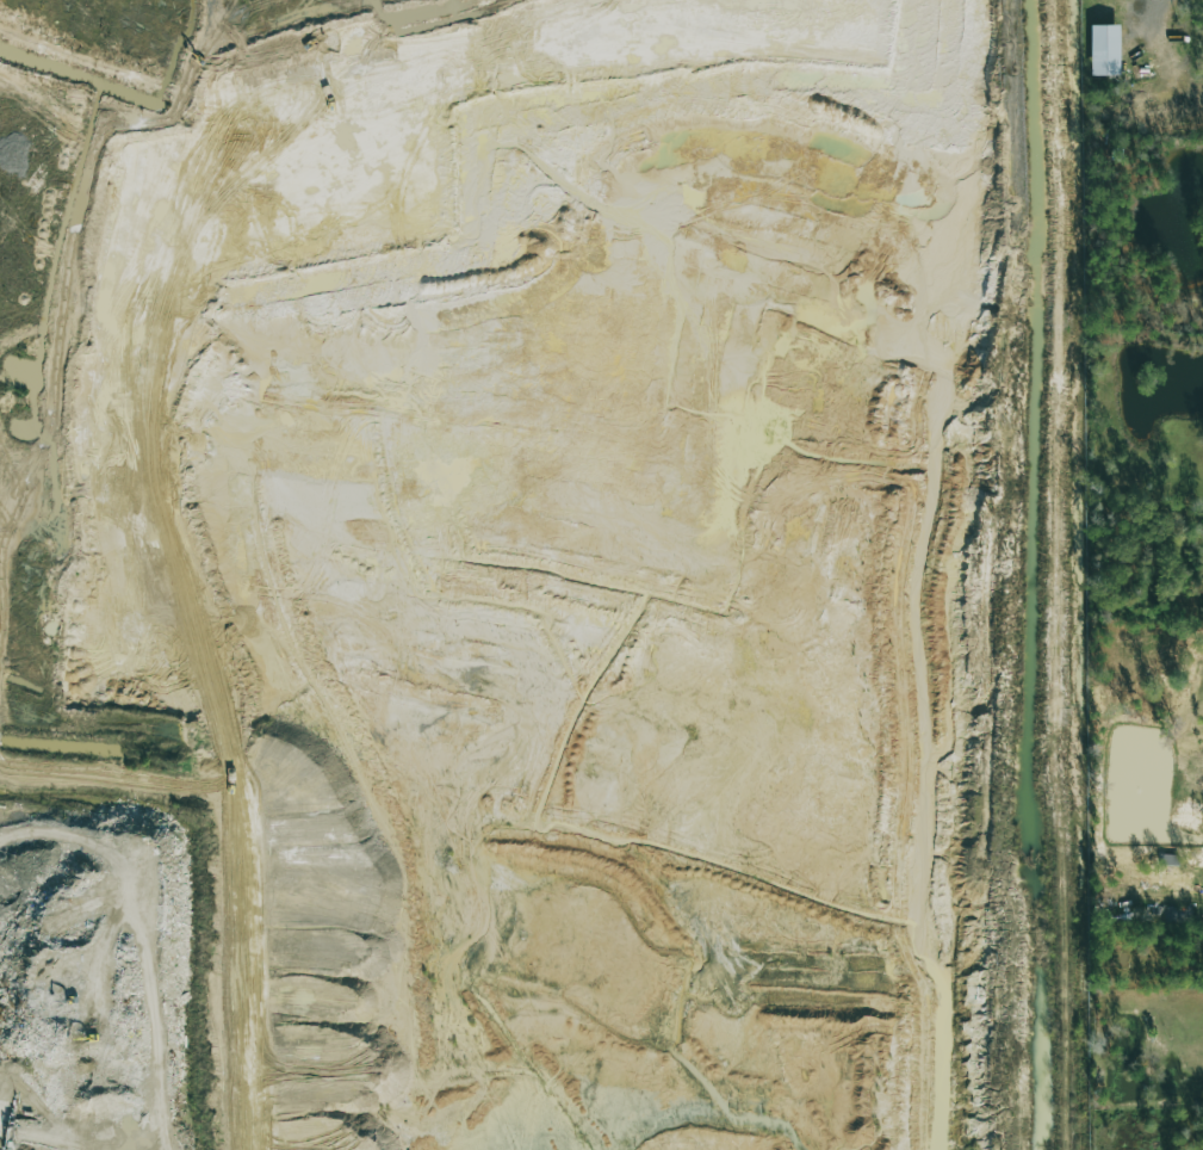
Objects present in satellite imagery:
building: (1103, 50)
road: (1177, 1000)

